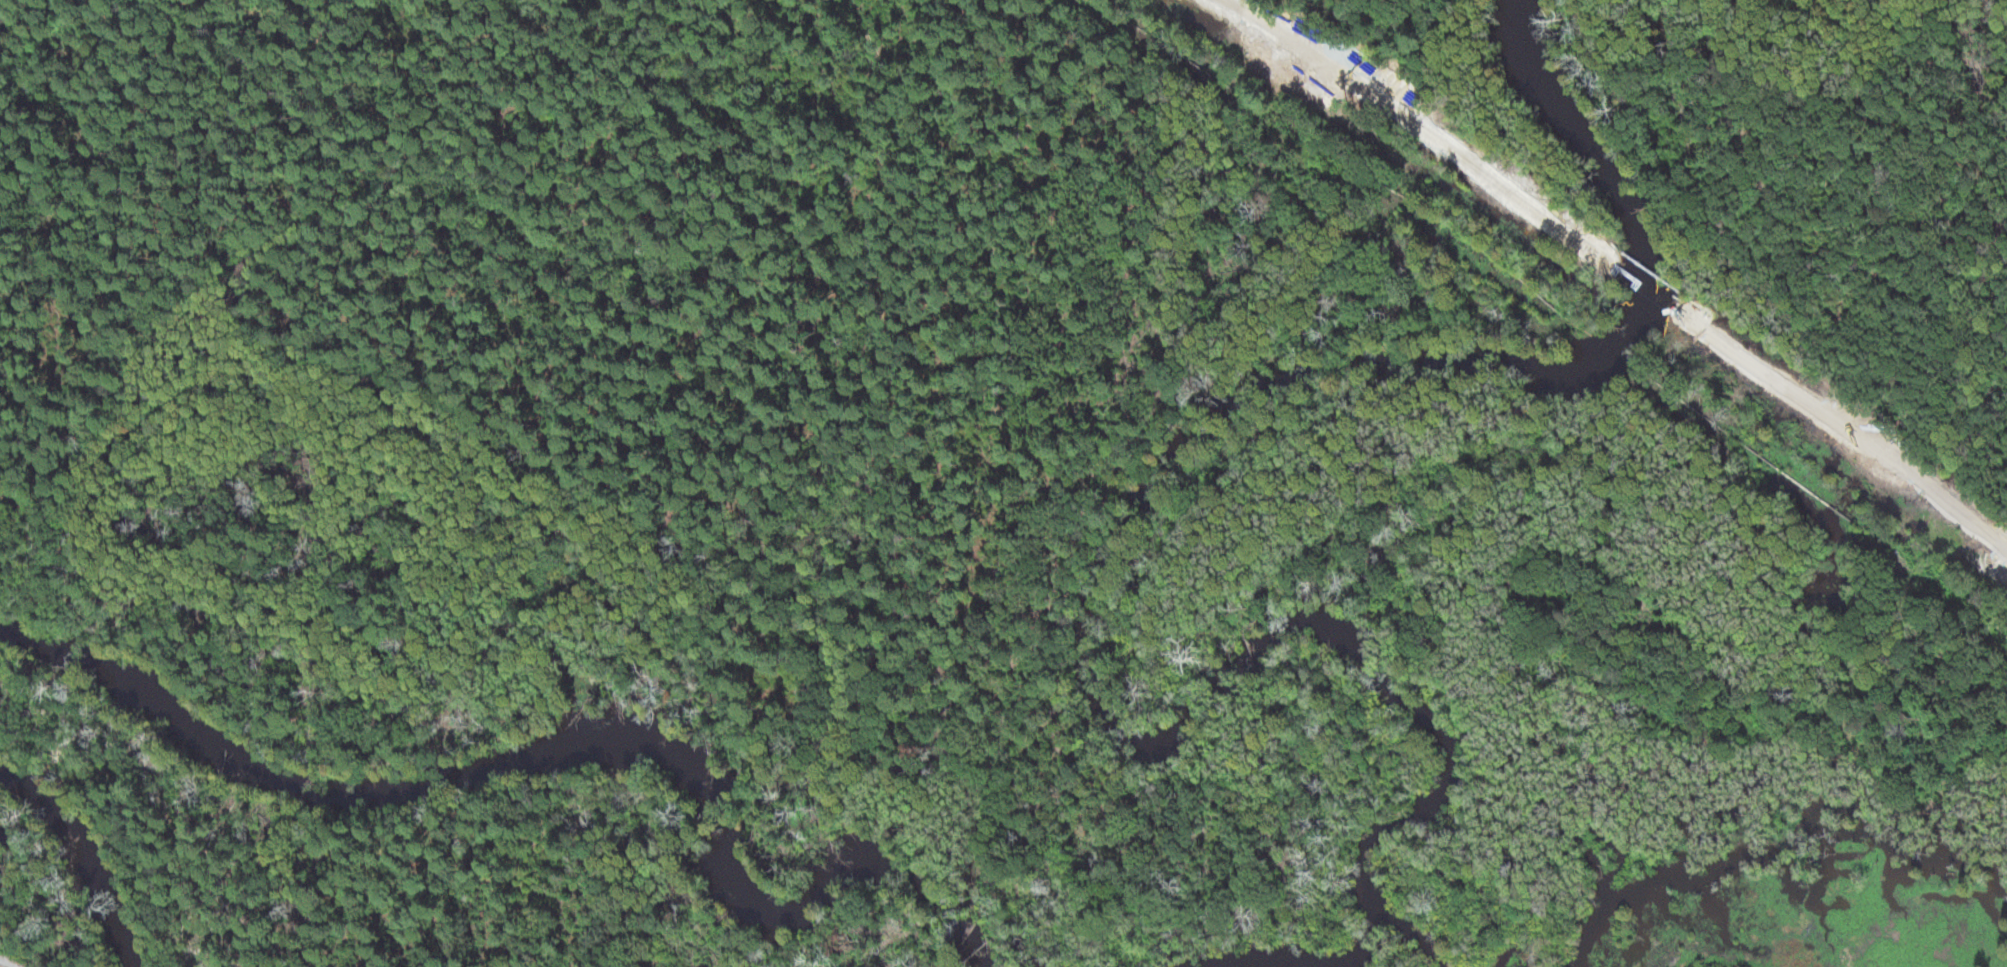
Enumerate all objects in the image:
railway: (4, 965)

